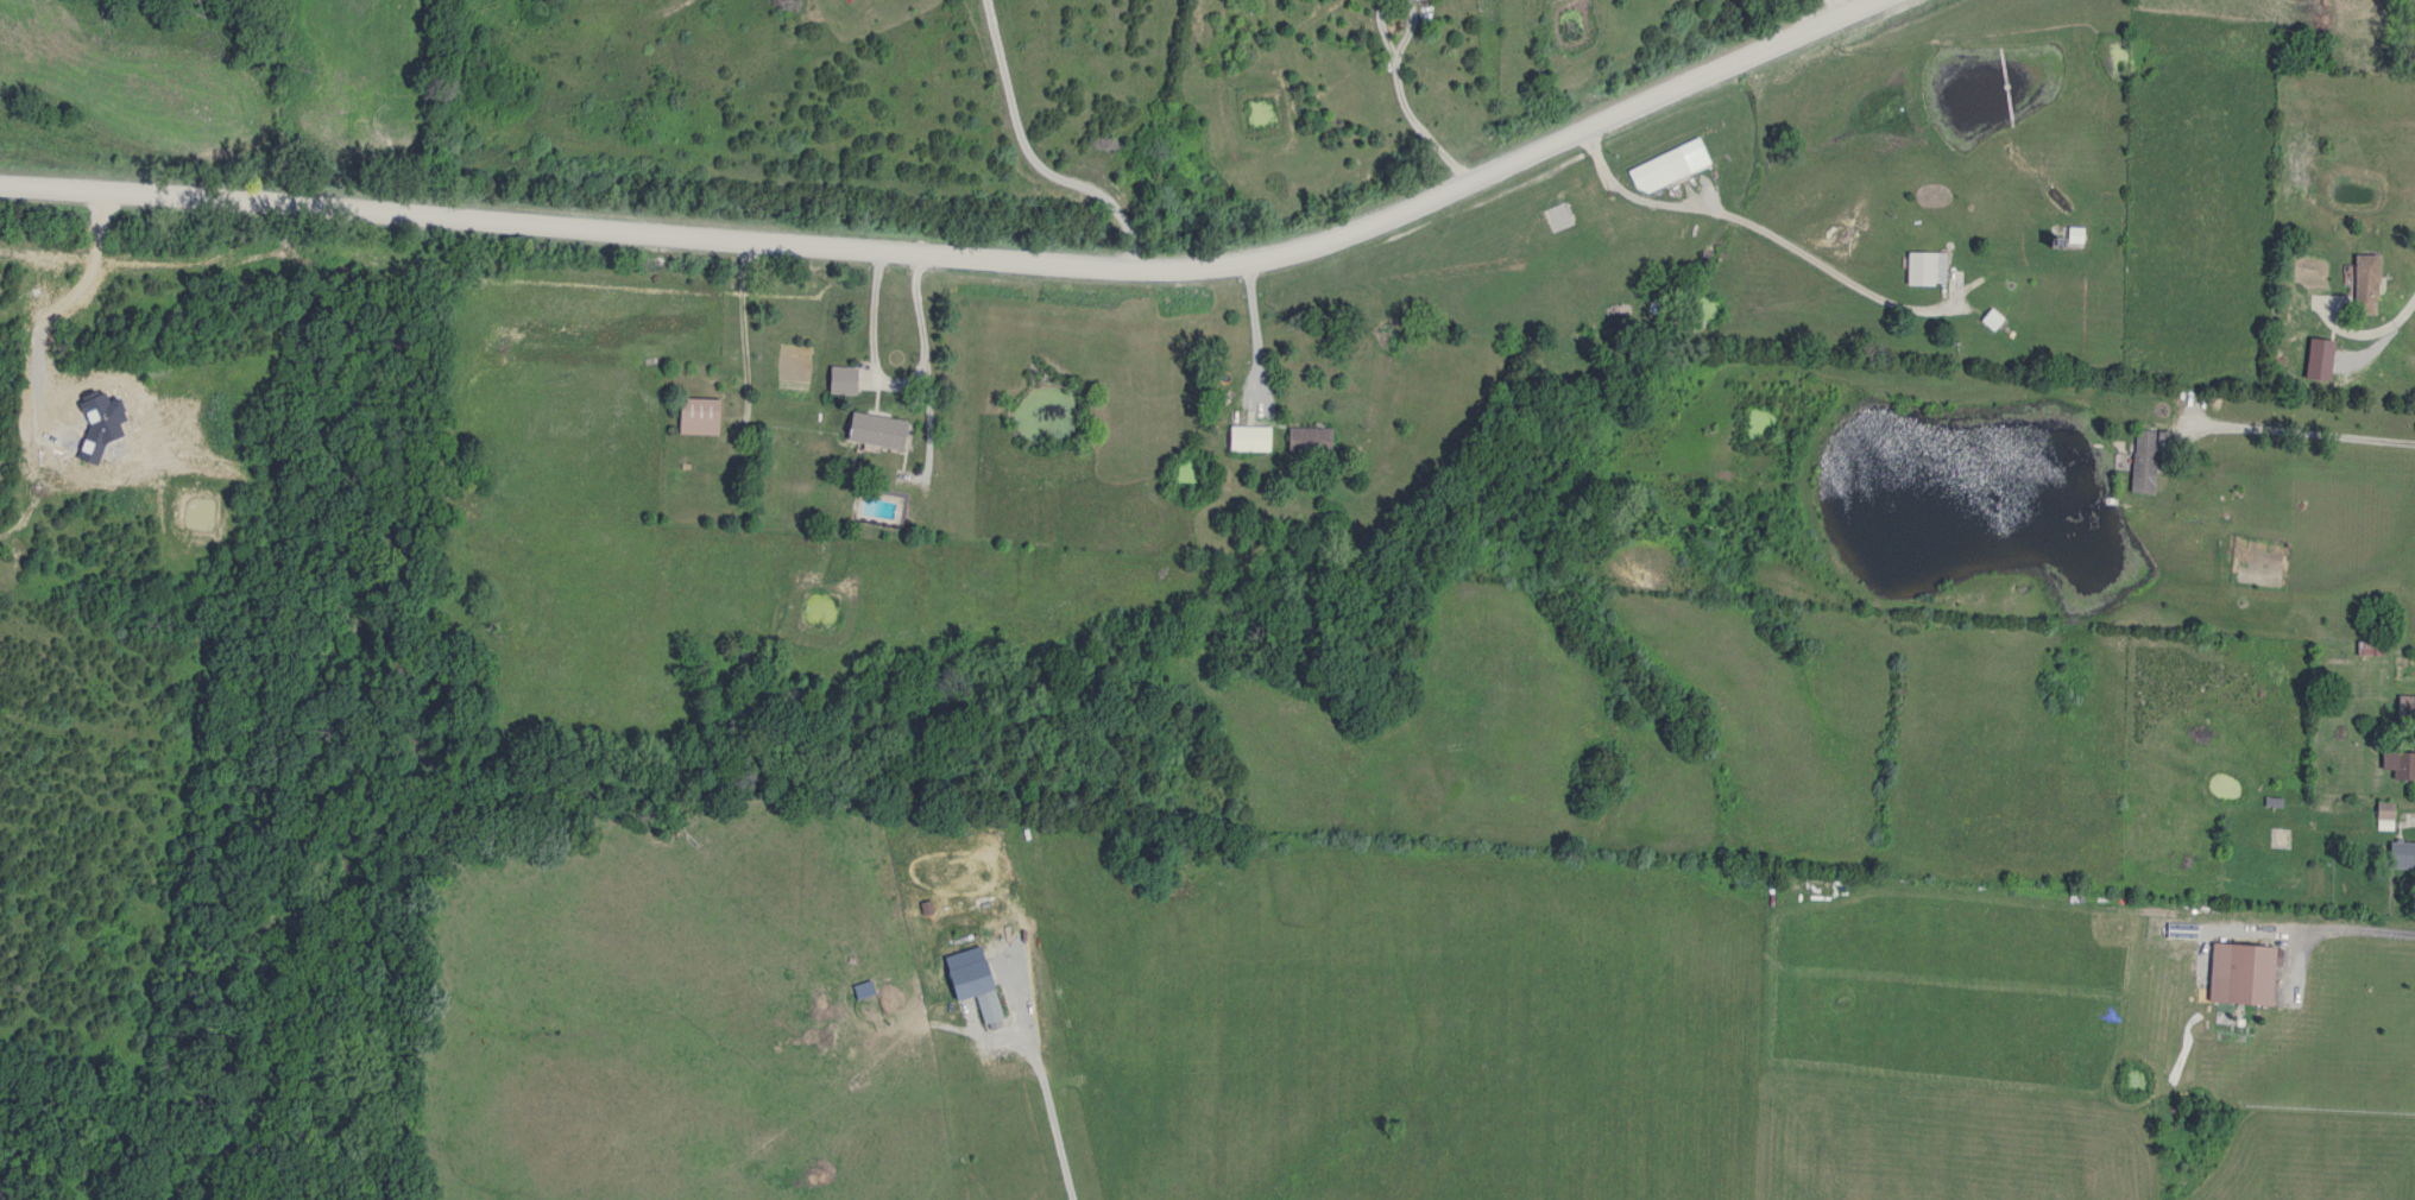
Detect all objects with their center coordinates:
road: (1833, 10)
building: (2414, 25)
road: (1379, 30)
road: (1402, 31)
road: (1419, 130)
road: (1032, 159)
building: (1645, 176)
road: (1770, 232)
building: (2072, 236)
road: (967, 260)
building: (1919, 270)
building: (2362, 283)
building: (2325, 303)
building: (1986, 320)
road: (740, 329)
road: (2365, 330)
road: (1250, 333)
road: (891, 379)
building: (836, 380)
building: (691, 416)
road: (2297, 429)
building: (868, 430)
building: (1243, 438)
building: (1304, 440)
building: (2140, 460)
building: (2367, 649)
building: (2403, 707)
building: (2396, 765)
building: (2381, 816)
building: (2397, 855)
road: (2352, 926)
building: (2236, 974)
road: (1043, 1098)

